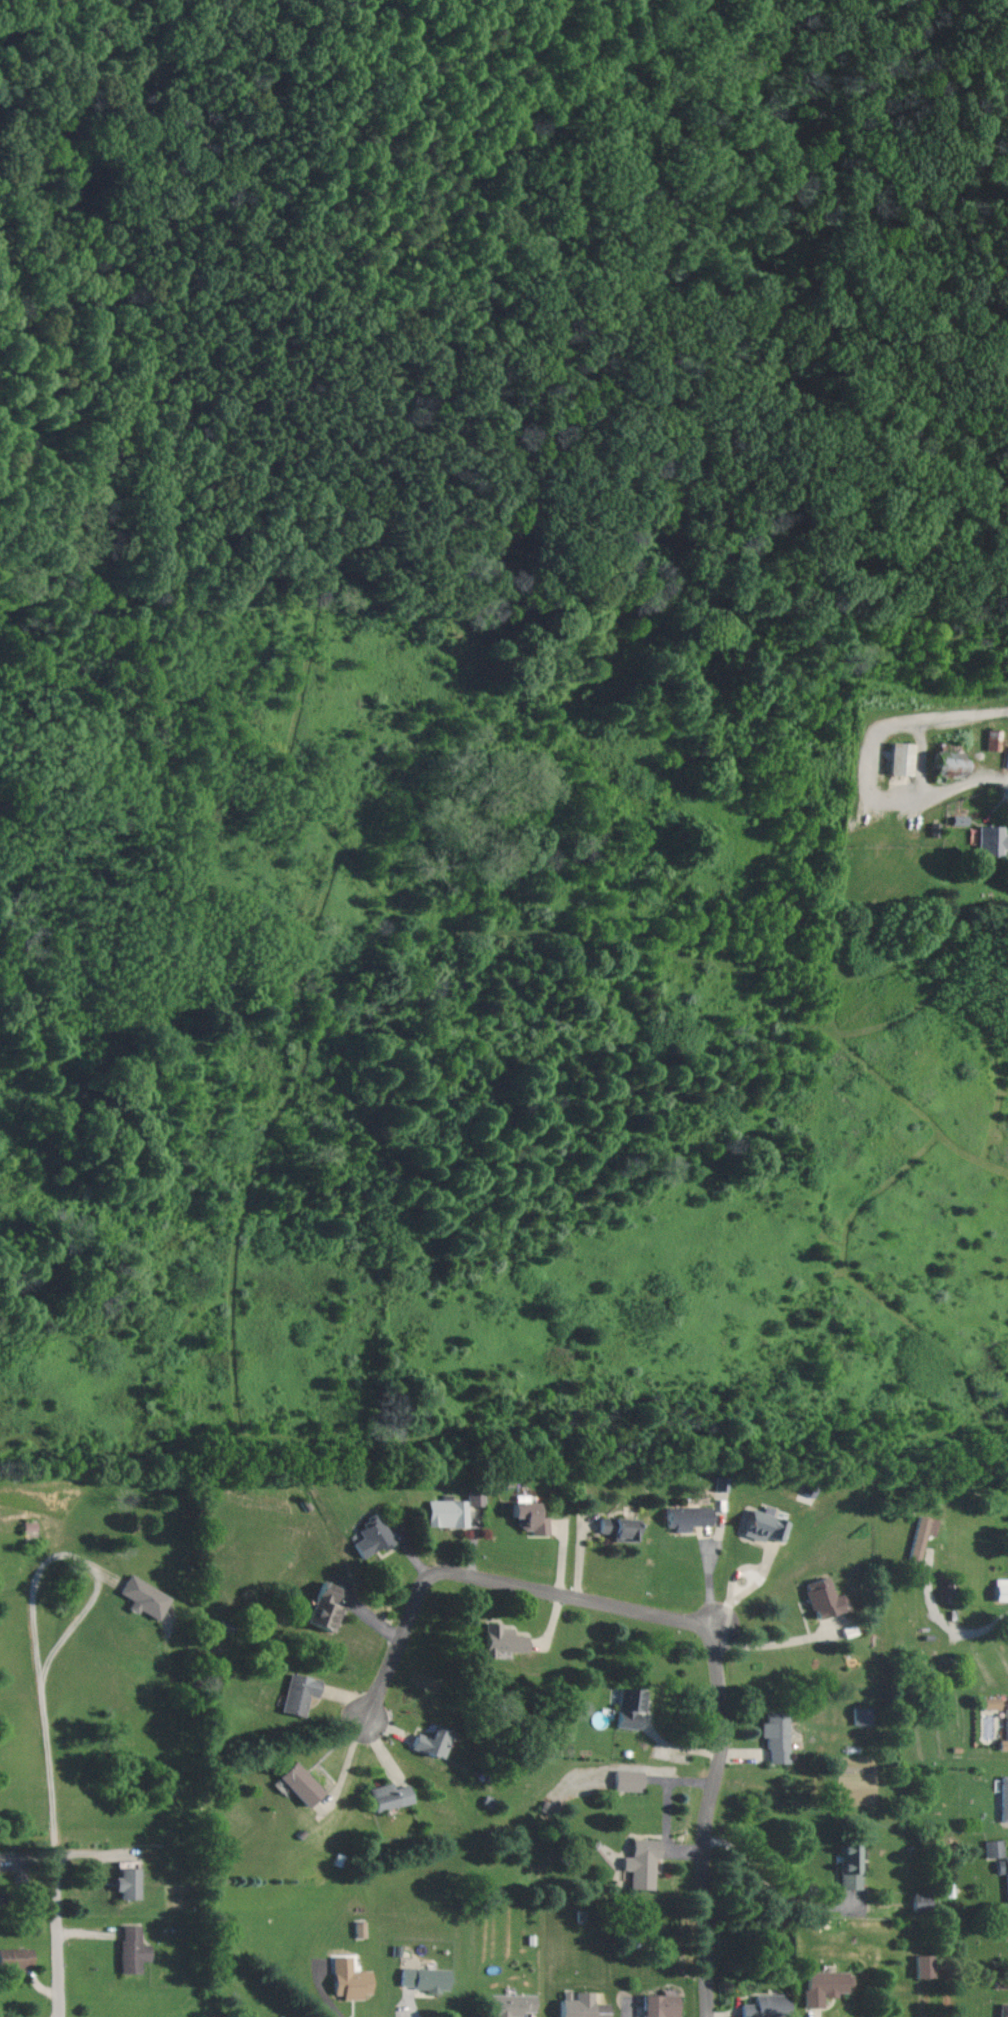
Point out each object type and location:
building: (1006, 757)
building: (898, 758)
building: (944, 764)
building: (988, 841)
building: (719, 1484)
building: (475, 1496)
building: (446, 1512)
building: (525, 1516)
building: (684, 1516)
building: (760, 1524)
building: (614, 1527)
building: (919, 1535)
building: (369, 1536)
road: (709, 1572)
road: (494, 1576)
road: (759, 1578)
building: (999, 1589)
building: (139, 1596)
building: (819, 1597)
building: (320, 1607)
road: (28, 1614)
road: (981, 1627)
building: (498, 1639)
road: (770, 1643)
building: (296, 1693)
building: (988, 1702)
building: (626, 1706)
building: (858, 1715)
building: (1003, 1731)
building: (772, 1735)
building: (430, 1740)
building: (624, 1779)
building: (296, 1783)
building: (384, 1796)
building: (1002, 1798)
road: (706, 1817)
building: (991, 1848)
building: (638, 1862)
building: (846, 1865)
building: (122, 1883)
road: (770, 1887)
building: (918, 1900)
road: (59, 1940)
building: (129, 1949)
building: (12, 1957)
building: (919, 1965)
building: (345, 1978)
building: (422, 1978)
building: (820, 1986)
building: (508, 2004)
building: (657, 2005)
building: (578, 2006)
building: (763, 2006)
building: (1002, 2009)
building: (273, 2016)

